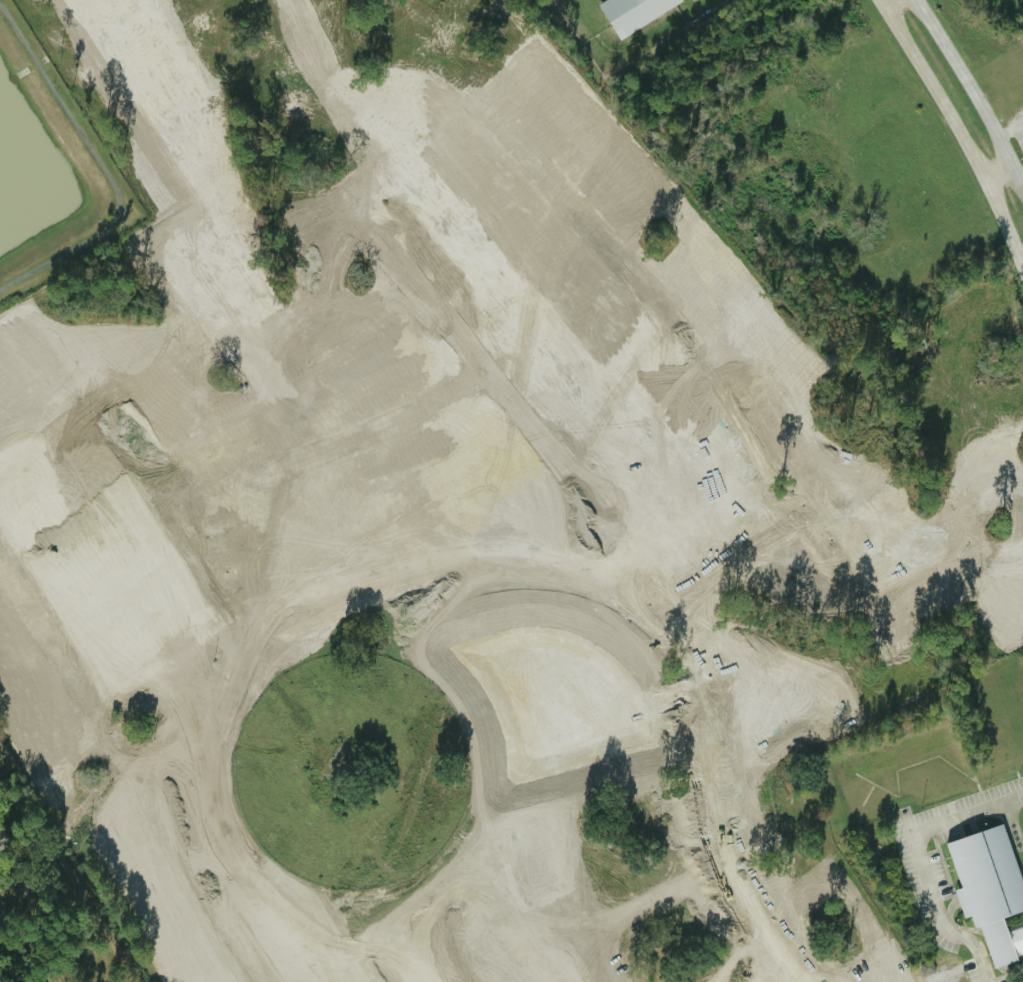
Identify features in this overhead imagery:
road: (885, 3)
building: (632, 13)
crop: (994, 41)
road: (972, 94)
road: (953, 132)
road: (107, 170)
park: (49, 172)
road: (995, 172)
road: (1020, 177)
road: (1013, 420)
road: (943, 448)
road: (794, 534)
road: (871, 613)
building: (123, 703)
building: (101, 716)
building: (77, 747)
road: (714, 804)
road: (79, 816)
building: (4, 839)
road: (926, 861)
building: (987, 887)
road: (452, 898)
building: (925, 968)

